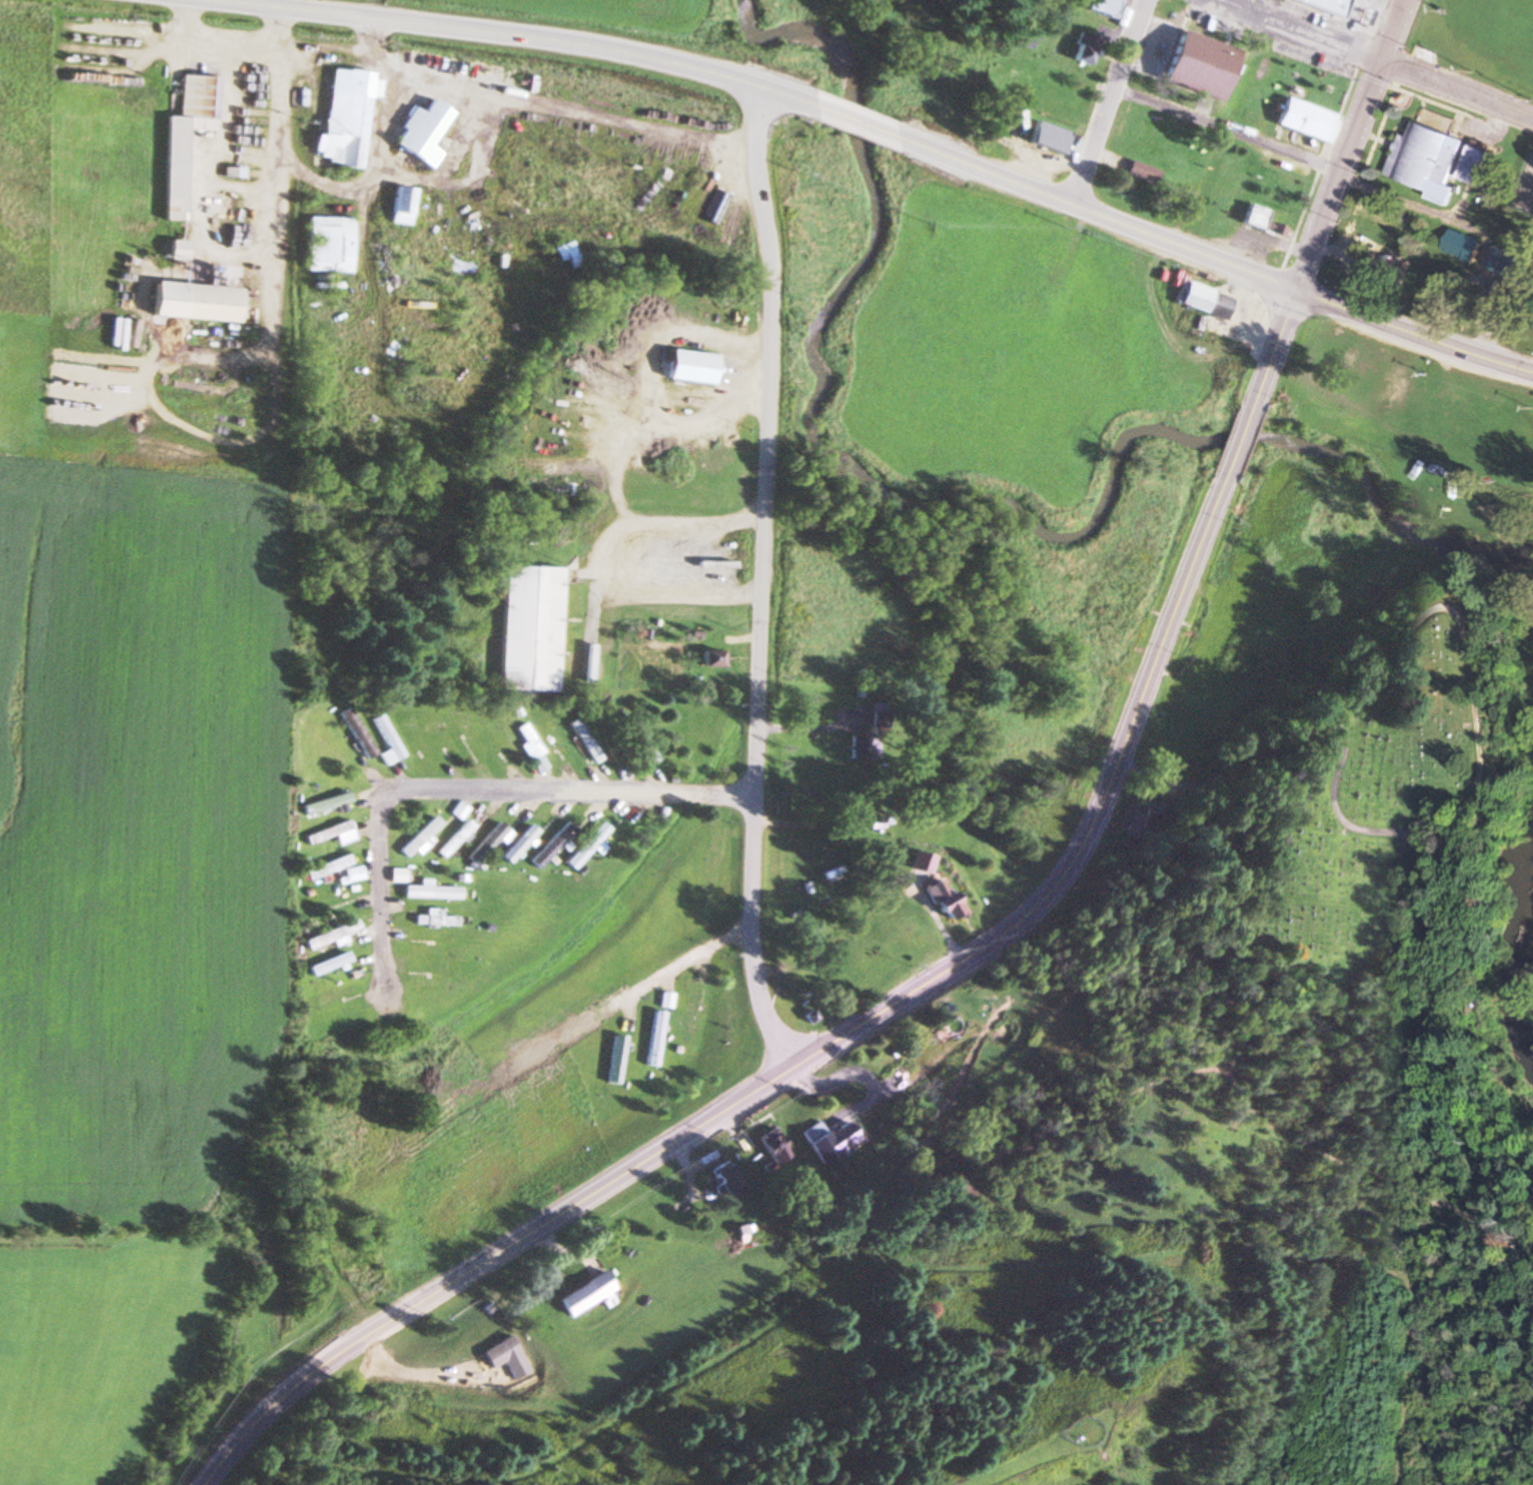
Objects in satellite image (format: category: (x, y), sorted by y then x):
building: (1329, 4)
building: (1104, 7)
road: (1270, 9)
building: (1360, 18)
road: (554, 32)
park: (1477, 43)
building: (1084, 50)
road: (1375, 60)
building: (1197, 67)
road: (1111, 99)
road: (855, 115)
building: (344, 119)
building: (1304, 122)
building: (418, 129)
building: (184, 135)
building: (1046, 138)
road: (1353, 141)
building: (464, 156)
building: (1434, 159)
building: (1141, 174)
road: (1351, 179)
building: (379, 197)
building: (399, 206)
road: (1096, 207)
building: (1258, 222)
building: (1387, 223)
building: (716, 227)
building: (327, 245)
building: (1463, 246)
building: (176, 251)
building: (564, 254)
building: (1510, 263)
building: (1202, 301)
building: (194, 303)
road: (1415, 323)
building: (689, 366)
road: (620, 556)
road: (764, 580)
building: (529, 628)
road: (1467, 650)
building: (710, 658)
building: (387, 737)
building: (554, 737)
building: (496, 738)
building: (528, 741)
building: (639, 742)
building: (864, 747)
building: (589, 749)
road: (459, 790)
building: (327, 803)
building: (520, 813)
building: (590, 815)
road: (1208, 816)
building: (1142, 818)
park: (1362, 826)
building: (324, 834)
building: (420, 839)
building: (454, 839)
building: (485, 843)
building: (517, 844)
building: (551, 846)
building: (586, 847)
building: (917, 862)
building: (329, 868)
building: (398, 875)
building: (430, 892)
building: (940, 900)
building: (435, 921)
building: (401, 934)
building: (338, 936)
building: (432, 948)
river: (1523, 950)
road: (687, 958)
building: (329, 964)
road: (897, 1002)
building: (692, 1006)
building: (1522, 1010)
building: (629, 1026)
building: (655, 1039)
building: (616, 1059)
building: (914, 1059)
building: (830, 1140)
building: (771, 1148)
building: (726, 1183)
building: (584, 1294)
building: (479, 1339)

